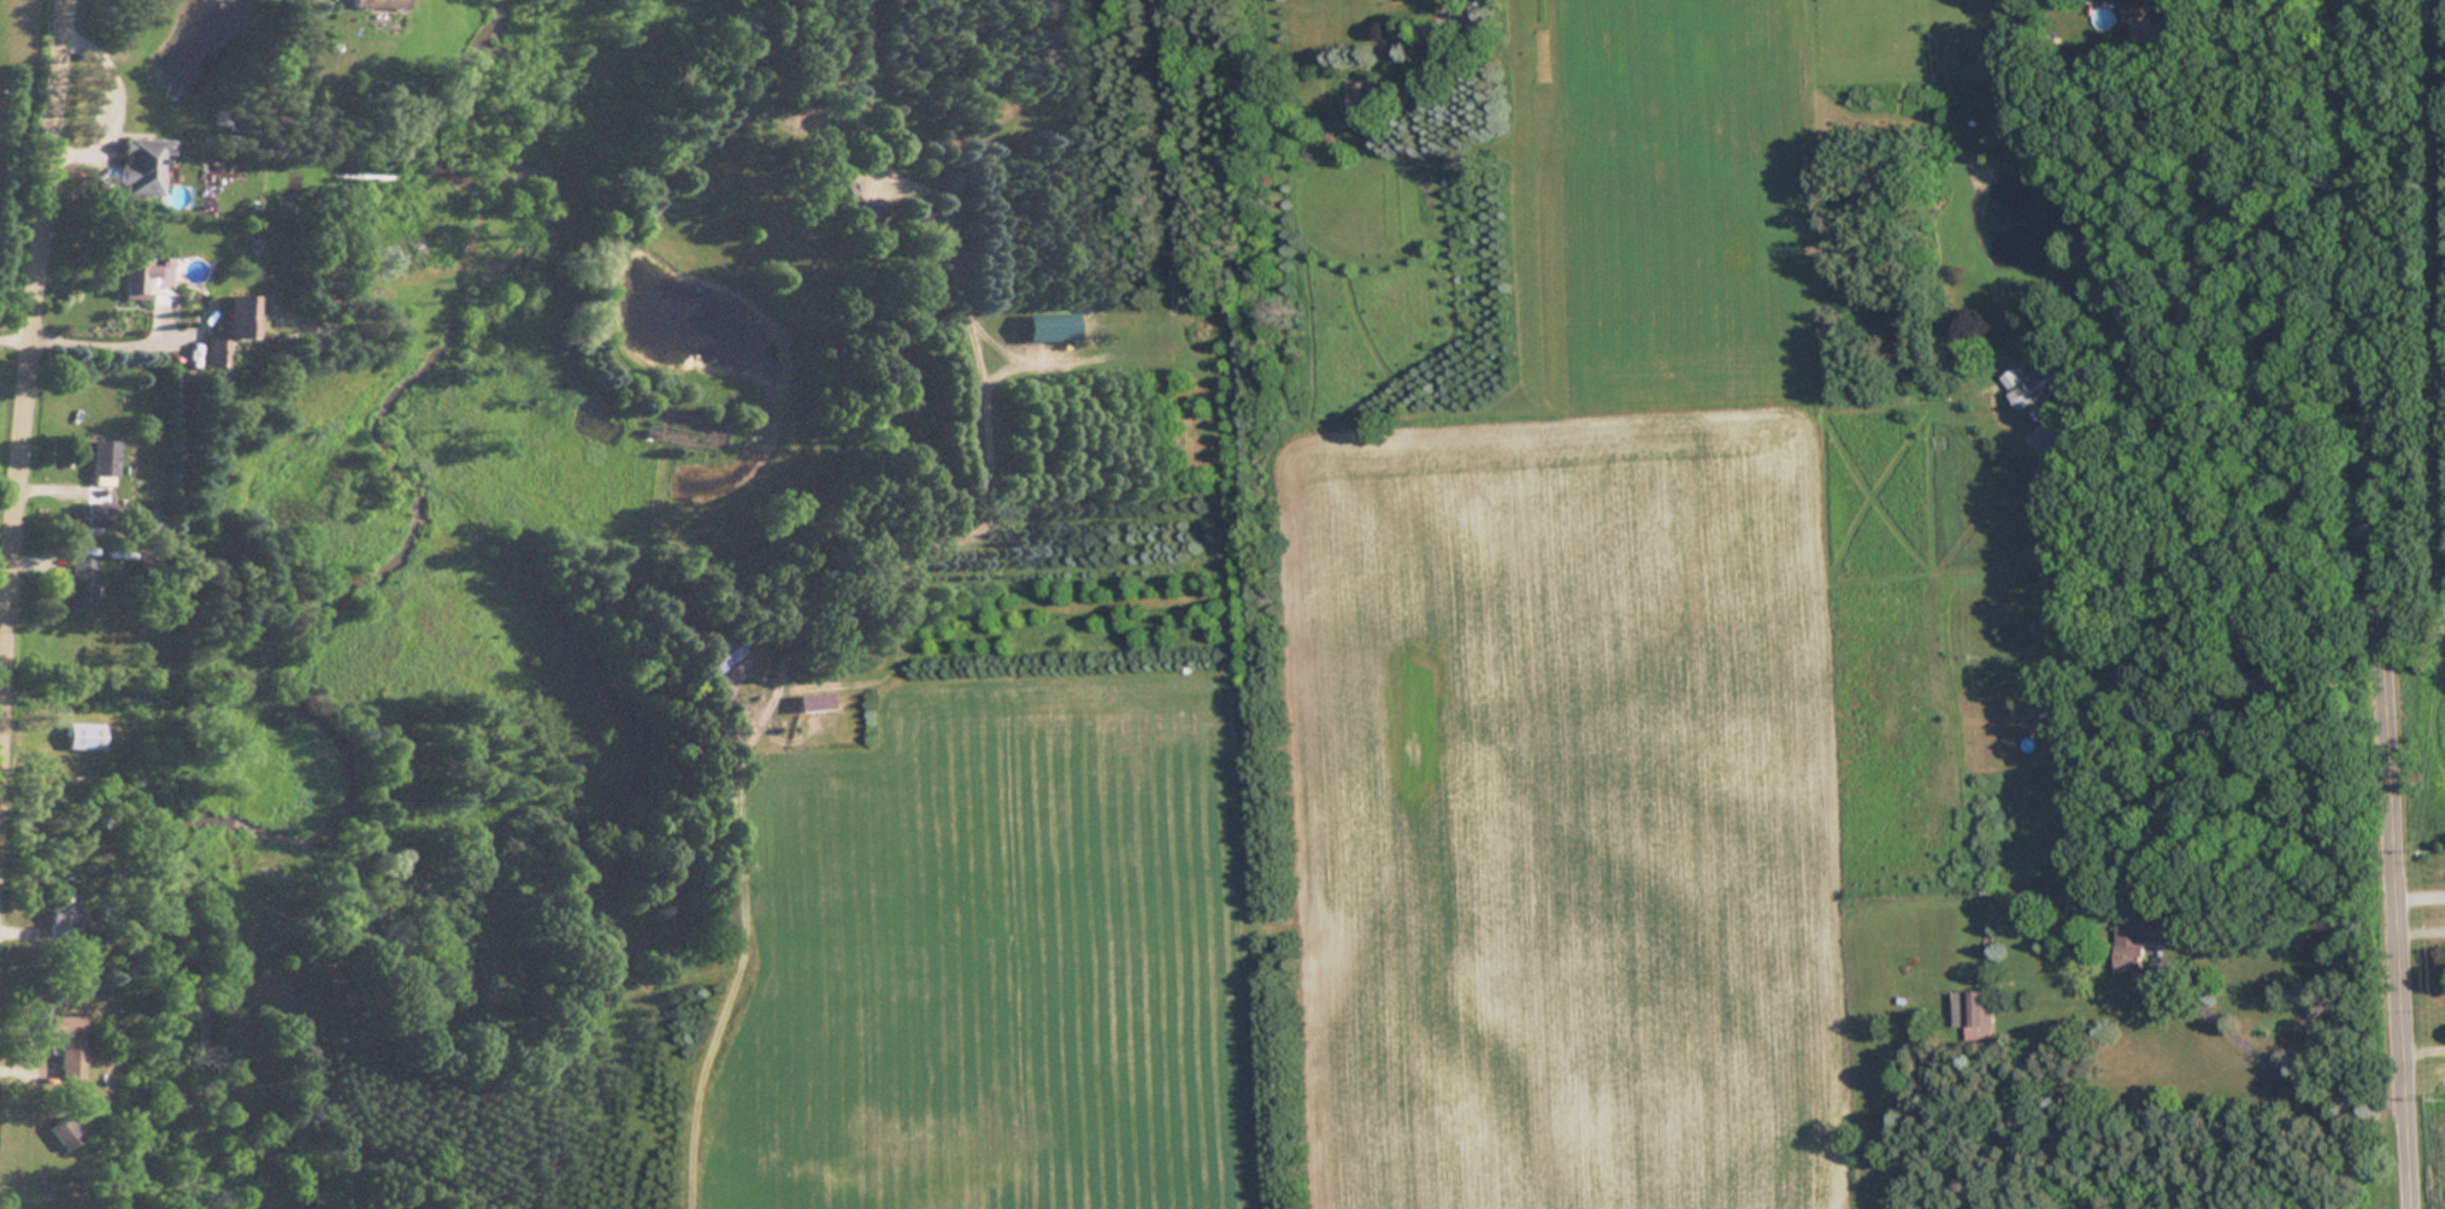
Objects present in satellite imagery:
building: (373, 4)
building: (2132, 8)
road: (2241, 10)
building: (136, 165)
building: (1975, 165)
building: (841, 196)
building: (137, 281)
building: (1047, 326)
building: (226, 329)
road: (14, 338)
road: (114, 346)
road: (28, 367)
building: (2039, 387)
building: (100, 459)
road: (2208, 549)
building: (77, 584)
road: (2375, 604)
road: (902, 620)
building: (711, 656)
building: (808, 702)
building: (79, 737)
road: (2421, 896)
building: (55, 918)
road: (2422, 931)
building: (2135, 940)
building: (1974, 1014)
building: (61, 1043)
road: (2425, 1048)
road: (2269, 1063)
building: (58, 1133)

